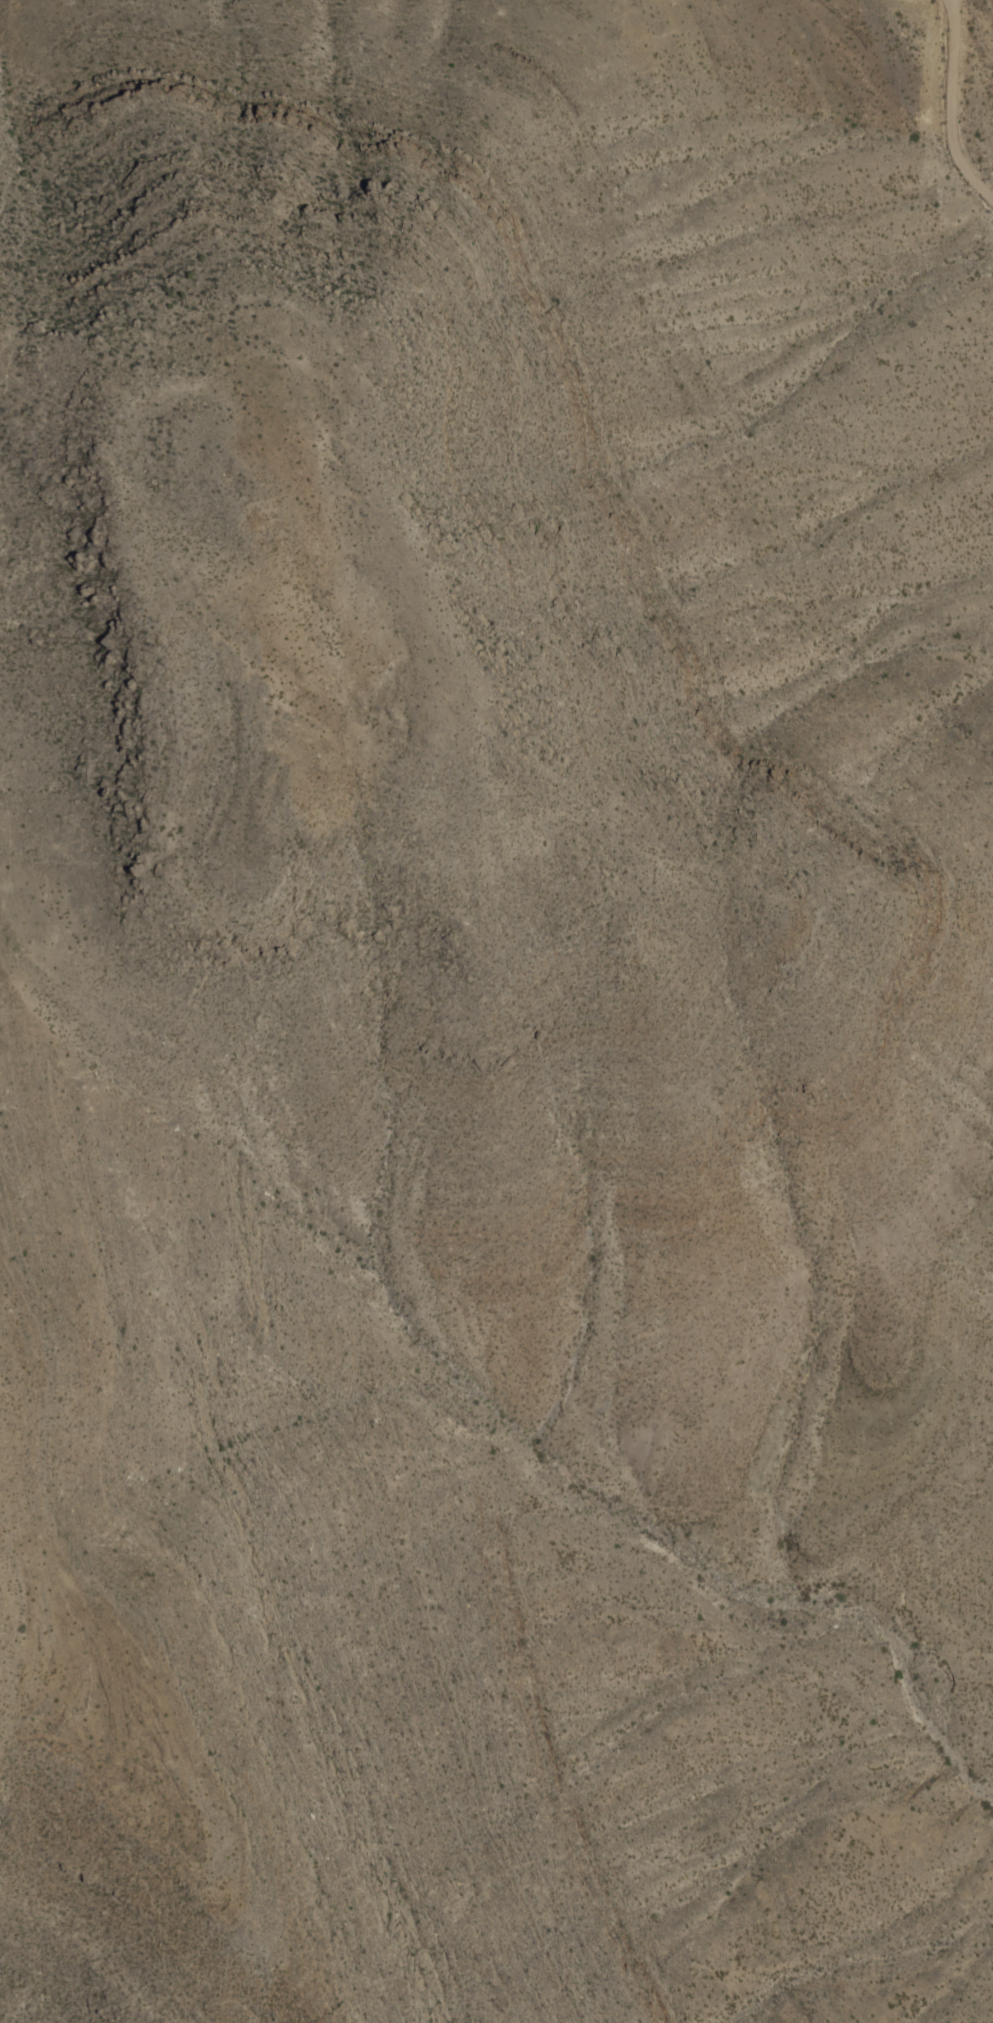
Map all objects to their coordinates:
road: (944, 109)
river: (885, 291)

